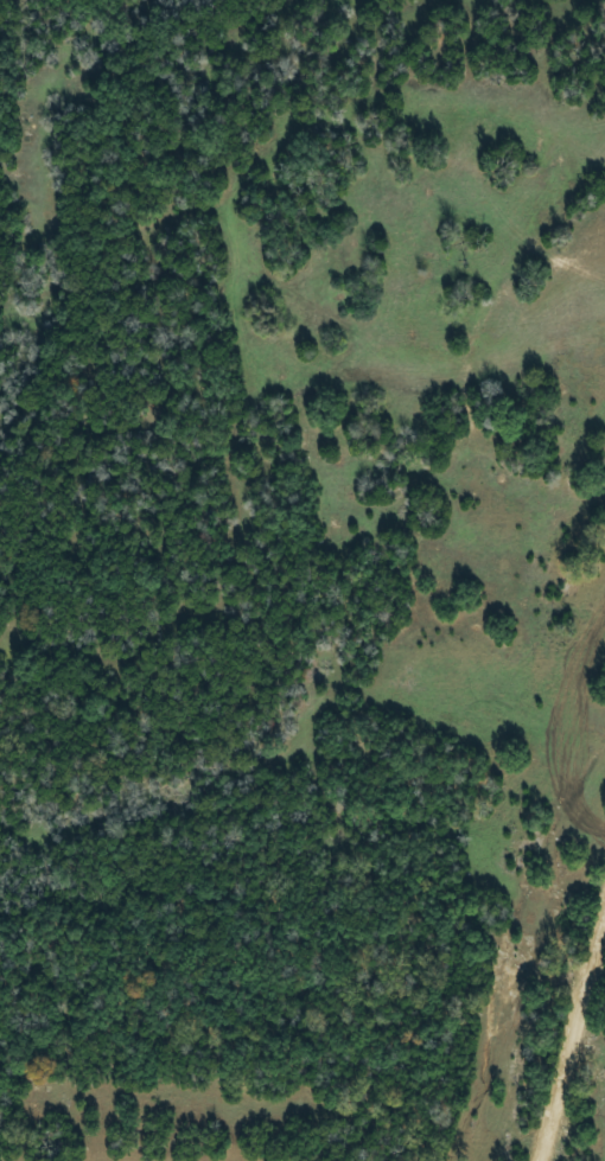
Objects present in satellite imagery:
road: (569, 1035)

